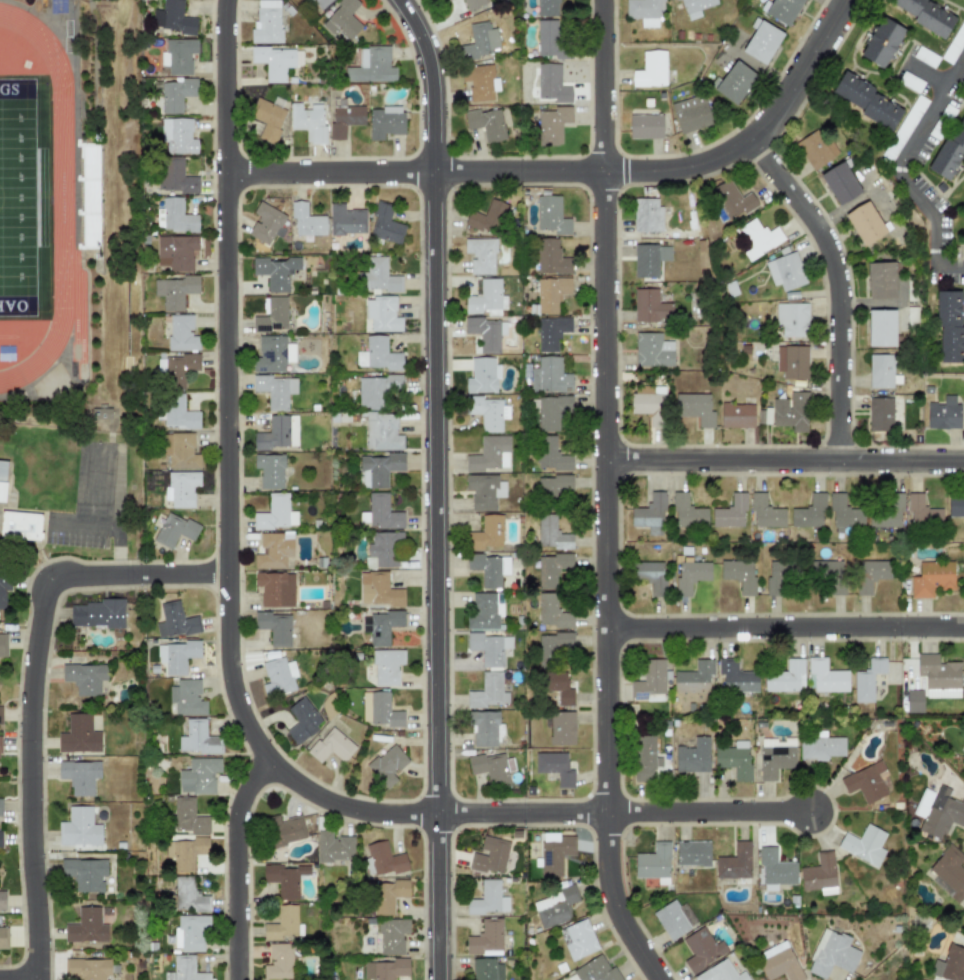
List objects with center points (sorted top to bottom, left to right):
building: (446, 0)
building: (674, 0)
building: (320, 3)
building: (473, 4)
building: (695, 7)
building: (546, 8)
building: (781, 10)
building: (644, 11)
building: (931, 14)
building: (173, 18)
building: (342, 20)
building: (266, 22)
building: (550, 40)
building: (479, 41)
building: (762, 41)
building: (887, 41)
building: (954, 43)
road: (98, 55)
building: (178, 56)
building: (925, 57)
building: (276, 61)
building: (371, 66)
building: (650, 70)
road: (800, 73)
road: (962, 74)
road: (929, 76)
building: (478, 82)
building: (910, 82)
building: (735, 83)
building: (550, 84)
building: (176, 94)
building: (870, 99)
building: (689, 114)
building: (344, 117)
building: (267, 118)
building: (308, 121)
building: (385, 122)
building: (486, 124)
building: (551, 125)
building: (645, 125)
building: (904, 128)
building: (177, 136)
building: (816, 148)
building: (949, 154)
road: (488, 171)
road: (903, 176)
building: (175, 177)
building: (840, 184)
park: (17, 198)
building: (732, 201)
stadium: (45, 202)
track: (55, 215)
building: (551, 215)
building: (174, 216)
building: (646, 216)
building: (487, 217)
building: (306, 220)
building: (345, 220)
building: (266, 223)
building: (866, 223)
building: (385, 224)
building: (758, 238)
building: (176, 252)
building: (480, 255)
building: (550, 257)
building: (648, 259)
building: (786, 270)
building: (275, 271)
building: (377, 276)
building: (879, 280)
road: (837, 286)
building: (175, 291)
building: (550, 293)
building: (486, 298)
building: (649, 307)
building: (382, 314)
building: (271, 315)
building: (791, 318)
building: (949, 327)
building: (881, 328)
building: (551, 332)
building: (181, 333)
building: (486, 333)
building: (653, 350)
building: (272, 354)
building: (377, 355)
building: (791, 361)
building: (176, 369)
building: (881, 371)
building: (481, 375)
building: (549, 376)
building: (275, 390)
building: (376, 390)
building: (647, 401)
building: (694, 408)
building: (790, 411)
building: (487, 412)
building: (177, 413)
building: (880, 414)
building: (943, 414)
building: (103, 415)
building: (737, 415)
building: (764, 416)
building: (382, 432)
building: (277, 433)
building: (180, 450)
building: (490, 454)
building: (550, 454)
road: (784, 460)
building: (378, 469)
building: (269, 470)
building: (2, 478)
road: (434, 486)
building: (554, 486)
building: (182, 488)
building: (484, 491)
road: (604, 496)
building: (955, 504)
building: (886, 511)
building: (922, 511)
building: (687, 512)
building: (729, 512)
building: (765, 512)
building: (275, 513)
building: (379, 513)
building: (808, 513)
building: (650, 514)
building: (844, 514)
building: (20, 525)
road: (107, 526)
building: (174, 530)
building: (551, 533)
building: (485, 534)
building: (273, 550)
building: (382, 550)
building: (489, 569)
building: (551, 569)
building: (738, 574)
building: (870, 574)
building: (650, 576)
building: (690, 576)
building: (827, 576)
building: (931, 578)
building: (776, 579)
building: (3, 588)
building: (275, 589)
building: (378, 590)
building: (484, 611)
building: (551, 612)
building: (96, 614)
building: (174, 621)
building: (380, 626)
road: (784, 626)
building: (274, 627)
building: (2, 645)
building: (552, 645)
building: (489, 648)
building: (176, 656)
road: (228, 661)
building: (386, 666)
building: (278, 676)
building: (825, 676)
building: (938, 676)
building: (736, 677)
building: (785, 677)
building: (84, 678)
building: (694, 678)
building: (867, 680)
building: (649, 682)
building: (557, 686)
road: (30, 688)
building: (488, 692)
building: (187, 697)
building: (913, 700)
building: (378, 709)
building: (0, 715)
building: (302, 720)
building: (483, 728)
building: (561, 728)
building: (78, 735)
building: (198, 738)
building: (331, 746)
building: (820, 746)
building: (693, 756)
building: (775, 757)
building: (644, 759)
building: (734, 759)
building: (963, 761)
building: (387, 765)
building: (554, 767)
building: (490, 768)
building: (79, 776)
building: (198, 776)
building: (866, 782)
street lamp: (823, 788)
building: (0, 807)
building: (938, 811)
building: (187, 817)
building: (79, 828)
building: (284, 830)
building: (0, 839)
building: (864, 845)
building: (333, 847)
building: (185, 852)
building: (554, 853)
building: (692, 853)
building: (489, 855)
building: (734, 862)
building: (653, 863)
road: (235, 864)
building: (774, 869)
building: (949, 873)
building: (85, 874)
building: (819, 874)
building: (284, 879)
building: (388, 895)
building: (188, 896)
building: (488, 898)
building: (2, 900)
building: (553, 907)
building: (670, 920)
building: (282, 924)
building: (86, 926)
building: (190, 932)
building: (391, 935)
building: (486, 937)
building: (3, 939)
building: (578, 939)
building: (701, 950)
building: (831, 954)
building: (278, 962)
building: (778, 962)
building: (952, 964)
building: (88, 968)
building: (384, 969)
building: (487, 969)
building: (184, 970)
building: (595, 970)
building: (721, 973)

